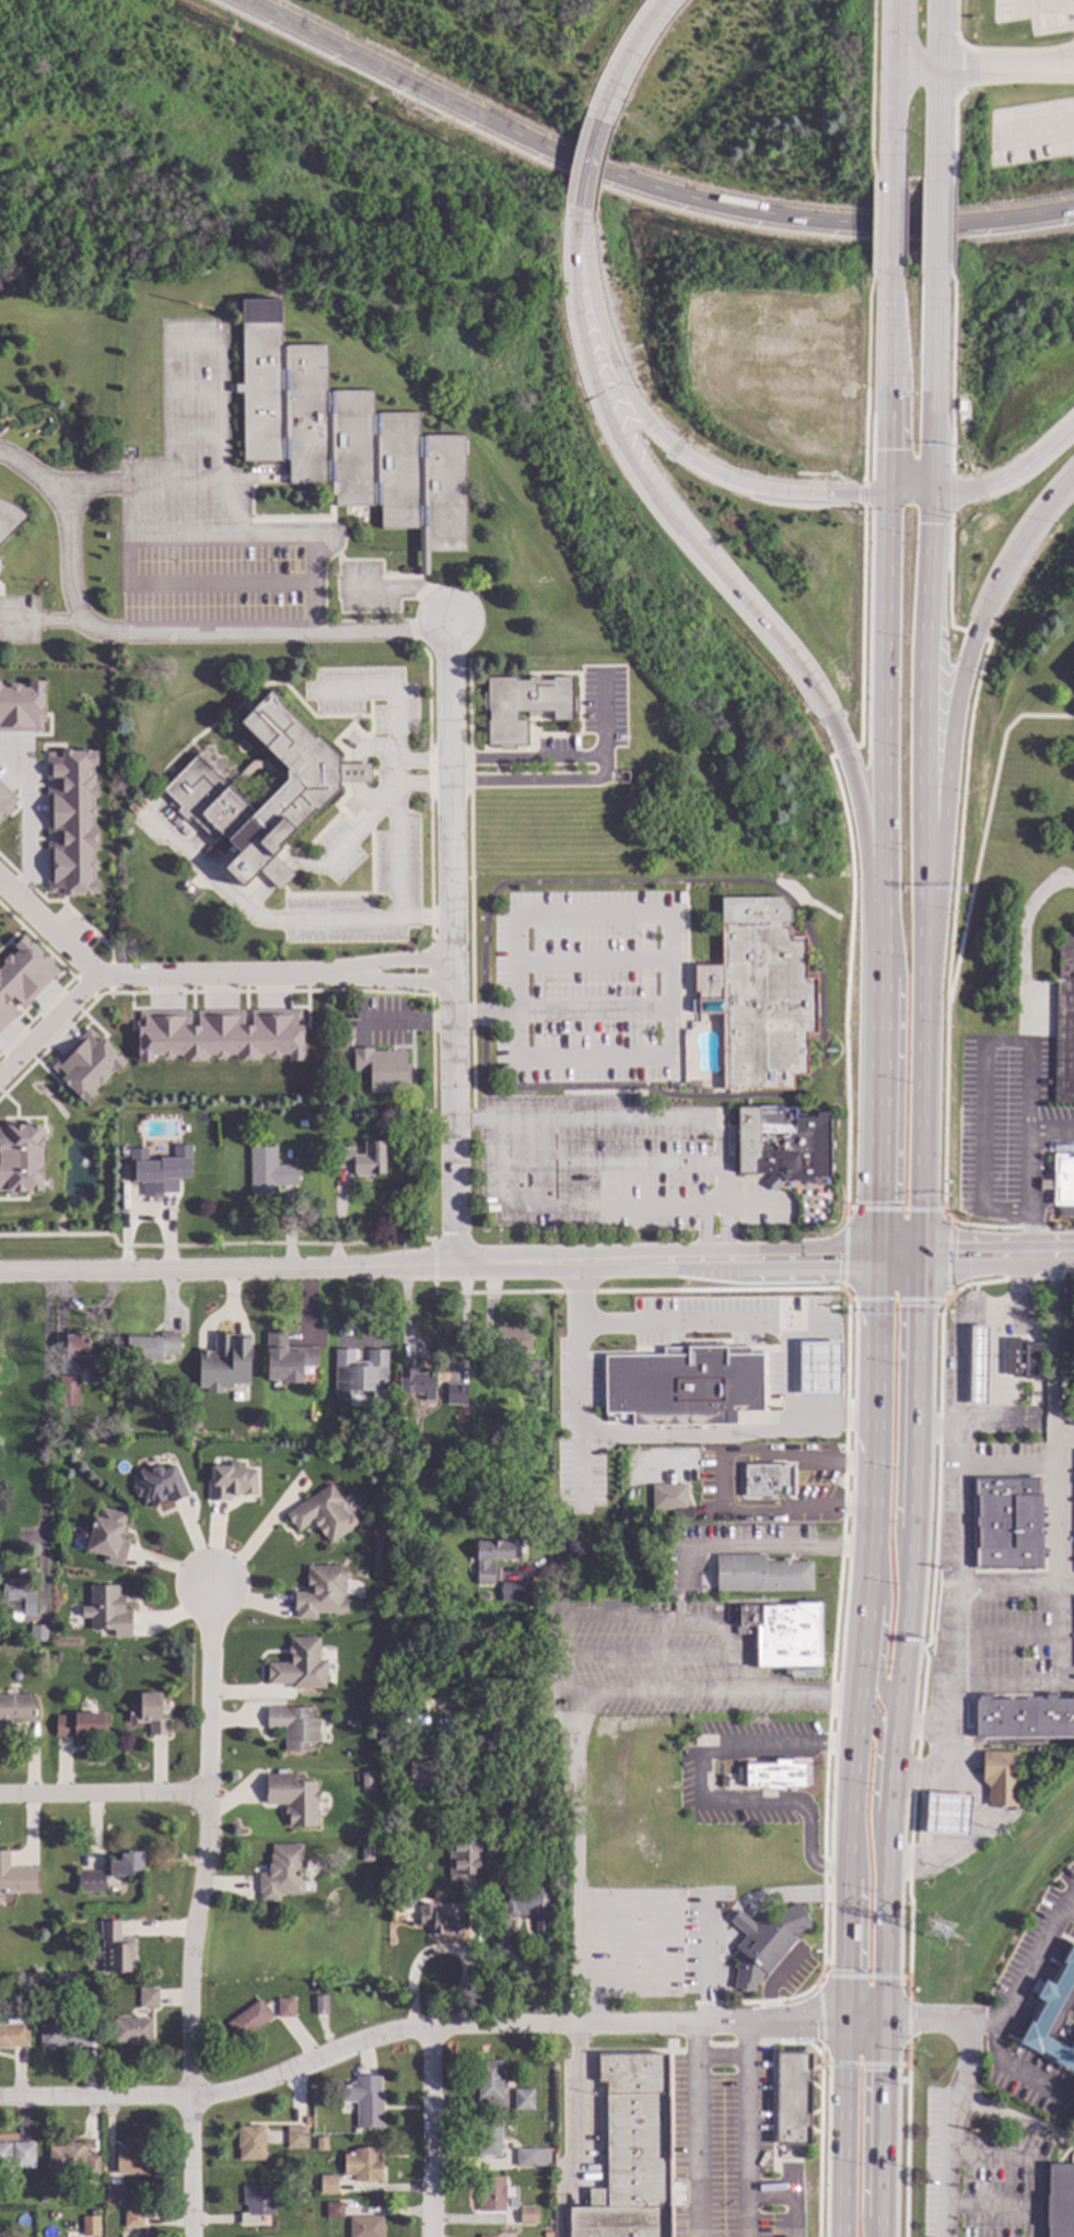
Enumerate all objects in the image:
road: (1040, 4)
parking lot: (1032, 12)
road: (955, 19)
road: (1052, 30)
road: (891, 34)
road: (941, 34)
road: (1013, 49)
road: (632, 59)
road: (1025, 63)
road: (915, 68)
road: (954, 68)
road: (958, 68)
road: (1025, 70)
road: (871, 89)
road: (939, 125)
road: (890, 127)
road: (1032, 131)
parking lot: (1030, 132)
road: (952, 141)
road: (582, 174)
road: (642, 184)
road: (873, 224)
road: (938, 229)
road: (950, 229)
road: (888, 230)
road: (569, 260)
road: (950, 373)
road: (866, 378)
road: (887, 385)
road: (934, 385)
building: (959, 405)
road: (218, 413)
road: (903, 422)
building: (346, 436)
road: (680, 467)
road: (1008, 475)
road: (952, 493)
road: (909, 495)
road: (864, 496)
road: (238, 506)
building: (9, 517)
road: (949, 577)
road: (727, 588)
road: (37, 618)
road: (861, 628)
road: (159, 632)
road: (977, 636)
building: (1072, 670)
road: (883, 692)
road: (957, 699)
building: (524, 705)
building: (21, 707)
road: (923, 721)
road: (843, 750)
road: (527, 758)
road: (424, 760)
road: (398, 761)
road: (576, 782)
building: (199, 788)
building: (5, 800)
road: (23, 815)
building: (70, 822)
road: (983, 828)
road: (346, 846)
road: (279, 920)
road: (658, 920)
road: (949, 929)
road: (452, 944)
road: (593, 963)
road: (207, 974)
building: (22, 976)
road: (845, 984)
building: (758, 993)
road: (560, 1012)
building: (1064, 1020)
road: (408, 1022)
road: (47, 1026)
building: (219, 1034)
road: (994, 1042)
building: (85, 1064)
building: (383, 1068)
building: (679, 1084)
road: (1027, 1087)
road: (898, 1089)
road: (656, 1115)
building: (781, 1143)
road: (1028, 1148)
building: (21, 1157)
building: (361, 1157)
road: (610, 1162)
building: (269, 1170)
building: (160, 1173)
building: (1061, 1180)
road: (605, 1208)
road: (894, 1209)
road: (1030, 1233)
road: (843, 1255)
road: (995, 1256)
traffic signals: (919, 1257)
road: (948, 1257)
traffic signals: (876, 1258)
road: (797, 1261)
road: (626, 1262)
road: (287, 1267)
road: (960, 1287)
road: (845, 1293)
road: (947, 1298)
road: (896, 1299)
road: (962, 1316)
road: (732, 1322)
building: (513, 1338)
building: (152, 1344)
road: (874, 1348)
building: (79, 1350)
building: (288, 1356)
building: (1023, 1358)
building: (223, 1361)
building: (978, 1365)
building: (819, 1367)
building: (489, 1368)
building: (360, 1371)
building: (631, 1378)
building: (417, 1381)
road: (996, 1387)
building: (68, 1389)
building: (455, 1393)
road: (899, 1417)
road: (954, 1430)
road: (646, 1434)
building: (405, 1436)
road: (44, 1437)
road: (1067, 1441)
building: (232, 1479)
building: (767, 1479)
building: (157, 1481)
road: (724, 1485)
building: (670, 1498)
building: (323, 1512)
building: (1007, 1522)
road: (1062, 1523)
building: (107, 1534)
road: (764, 1546)
building: (490, 1558)
building: (761, 1573)
road: (1016, 1582)
building: (322, 1591)
building: (516, 1591)
road: (908, 1592)
building: (482, 1594)
building: (16, 1595)
road: (958, 1597)
building: (107, 1609)
road: (645, 1619)
building: (38, 1632)
building: (782, 1633)
road: (1009, 1635)
road: (880, 1636)
road: (644, 1655)
road: (731, 1663)
building: (299, 1664)
road: (664, 1694)
road: (779, 1694)
road: (827, 1696)
building: (364, 1707)
building: (15, 1711)
building: (149, 1712)
building: (1024, 1715)
road: (494, 1722)
building: (81, 1724)
road: (923, 1724)
building: (294, 1725)
building: (421, 1772)
building: (774, 1773)
building: (1000, 1776)
road: (874, 1778)
building: (364, 1779)
building: (726, 1780)
building: (446, 1791)
building: (292, 1796)
road: (105, 1797)
road: (699, 1797)
building: (946, 1813)
road: (574, 1817)
building: (397, 1828)
road: (968, 1841)
building: (400, 1847)
building: (467, 1853)
building: (503, 1854)
building: (112, 1870)
building: (281, 1872)
building: (15, 1876)
road: (770, 1898)
building: (398, 1901)
building: (521, 1907)
road: (198, 1911)
road: (845, 1912)
road: (709, 1916)
building: (441, 1920)
road: (861, 1920)
power tower: (943, 1936)
building: (764, 1942)
building: (113, 1947)
road: (1025, 1965)
traffic signals: (861, 1969)
building: (34, 1970)
traffic signals: (844, 1970)
road: (709, 1978)
road: (863, 1978)
road: (773, 1981)
road: (584, 1991)
road: (658, 1991)
building: (91, 1992)
building: (147, 1996)
building: (320, 2004)
building: (285, 2006)
building: (1054, 2016)
building: (248, 2018)
road: (820, 2018)
road: (862, 2018)
traffic signals: (815, 2019)
road: (907, 2019)
traffic signals: (913, 2019)
road: (416, 2026)
building: (132, 2030)
building: (13, 2033)
building: (65, 2034)
road: (720, 2061)
road: (863, 2064)
traffic signals: (865, 2070)
traffic signals: (882, 2071)
building: (489, 2078)
road: (960, 2087)
building: (792, 2097)
building: (523, 2098)
building: (364, 2099)
road: (748, 2107)
road: (1015, 2113)
building: (305, 2119)
road: (863, 2124)
road: (692, 2128)
road: (842, 2128)
road: (431, 2131)
road: (575, 2131)
building: (489, 2135)
building: (295, 2136)
building: (250, 2142)
building: (322, 2143)
building: (630, 2152)
building: (4, 2154)
building: (23, 2154)
building: (67, 2155)
building: (532, 2156)
building: (131, 2158)
road: (1028, 2160)
building: (363, 2164)
building: (93, 2166)
building: (548, 2172)
building: (328, 2183)
building: (113, 2192)
building: (492, 2192)
road: (744, 2194)
building: (1061, 2200)
building: (257, 2202)
road: (990, 2205)
building: (334, 2209)
building: (527, 2214)
road: (744, 2215)
road: (794, 2215)
building: (132, 2217)
building: (91, 2225)
building: (365, 2226)
building: (547, 2234)
building: (490, 2236)

